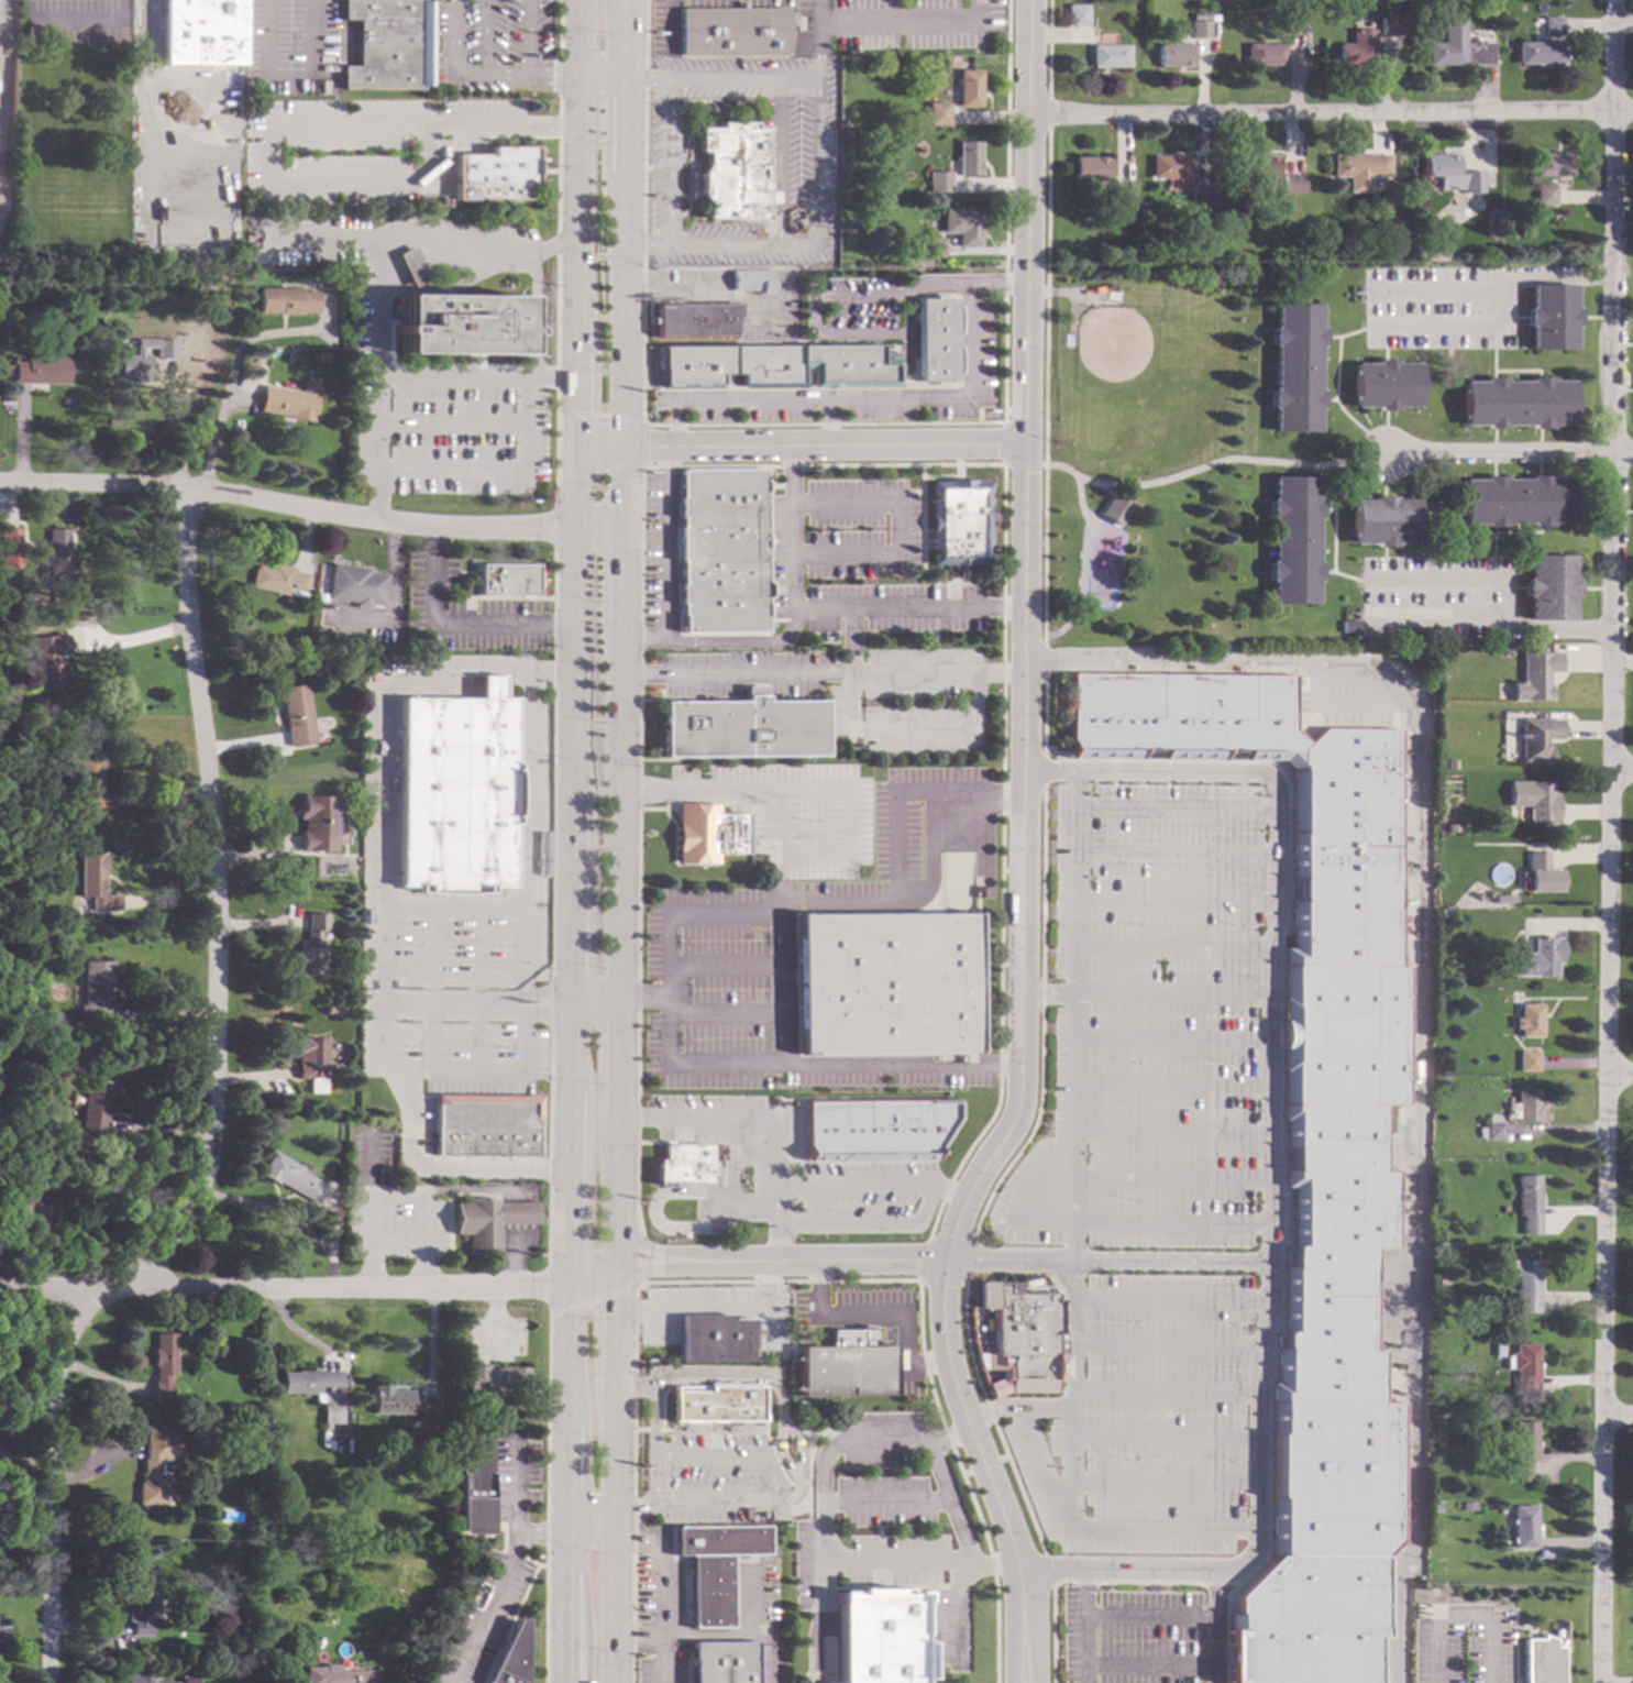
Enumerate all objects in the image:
building: (1077, 14)
building: (1291, 21)
road: (106, 23)
road: (907, 23)
building: (1553, 25)
building: (1390, 26)
road: (0, 28)
building: (1199, 30)
building: (733, 31)
building: (36, 34)
road: (481, 37)
road: (525, 38)
road: (576, 40)
road: (625, 40)
road: (815, 40)
building: (387, 45)
parking lot: (289, 46)
building: (1456, 46)
parking lot: (487, 47)
building: (1356, 48)
building: (1538, 53)
building: (1174, 55)
building: (1264, 55)
building: (1110, 56)
road: (287, 74)
road: (450, 75)
road: (550, 78)
road: (600, 79)
building: (199, 80)
building: (323, 87)
building: (969, 89)
road: (141, 103)
building: (937, 112)
road: (1331, 113)
building: (843, 122)
road: (291, 127)
road: (624, 127)
building: (968, 157)
road: (669, 163)
road: (776, 163)
road: (814, 163)
building: (1552, 164)
building: (1359, 165)
building: (1169, 167)
building: (1091, 168)
building: (1257, 170)
building: (733, 172)
building: (495, 174)
building: (1454, 176)
building: (1489, 180)
building: (938, 182)
building: (1292, 185)
building: (1544, 195)
building: (1199, 196)
building: (1121, 197)
building: (1465, 212)
building: (1393, 219)
building: (1527, 220)
building: (1129, 221)
building: (961, 226)
road: (323, 240)
building: (934, 246)
road: (478, 252)
building: (334, 275)
building: (751, 280)
road: (1491, 286)
road: (703, 289)
building: (287, 299)
road: (815, 299)
road: (380, 310)
road: (534, 317)
building: (1551, 317)
building: (454, 318)
building: (695, 319)
road: (1455, 328)
building: (937, 337)
road: (621, 351)
building: (142, 358)
building: (775, 366)
building: (1294, 367)
building: (8, 369)
building: (40, 370)
road: (407, 380)
park: (1144, 381)
road: (230, 382)
building: (1383, 385)
road: (904, 399)
building: (286, 403)
building: (1516, 403)
road: (827, 421)
road: (676, 426)
road: (799, 444)
road: (522, 448)
park: (1146, 453)
road: (1507, 453)
road: (1211, 462)
road: (1004, 463)
building: (1515, 501)
road: (1025, 506)
road: (309, 508)
building: (1114, 510)
building: (958, 521)
building: (1382, 521)
road: (896, 529)
road: (1003, 530)
road: (792, 531)
building: (9, 536)
building: (1292, 540)
building: (722, 550)
road: (1044, 552)
building: (58, 554)
road: (1082, 562)
road: (666, 565)
road: (1464, 576)
road: (620, 577)
building: (278, 579)
building: (507, 579)
building: (355, 584)
building: (1549, 586)
road: (1003, 607)
road: (909, 608)
road: (1490, 624)
building: (1349, 625)
road: (451, 627)
road: (1002, 640)
road: (738, 641)
road: (851, 641)
building: (1507, 649)
road: (1044, 661)
road: (1225, 663)
road: (1002, 672)
road: (821, 673)
building: (1536, 674)
building: (51, 676)
road: (1345, 704)
building: (296, 714)
road: (1044, 716)
building: (742, 728)
road: (1001, 733)
road: (915, 737)
building: (1538, 738)
road: (1139, 769)
road: (1044, 771)
road: (1624, 772)
building: (9, 777)
building: (88, 782)
building: (455, 793)
road: (1001, 799)
building: (1534, 799)
road: (1177, 810)
road: (617, 812)
building: (317, 822)
road: (847, 822)
building: (1450, 827)
road: (896, 829)
building: (707, 833)
road: (1614, 842)
road: (777, 849)
road: (1177, 853)
building: (1541, 875)
road: (570, 880)
building: (93, 882)
road: (1042, 887)
building: (1488, 893)
building: (1503, 898)
building: (49, 899)
road: (1176, 902)
road: (850, 904)
road: (388, 908)
road: (1000, 934)
road: (521, 943)
building: (311, 946)
road: (1172, 948)
building: (1537, 956)
road: (724, 966)
building: (1501, 969)
building: (885, 982)
building: (91, 988)
road: (1041, 993)
road: (1048, 994)
road: (1171, 996)
road: (593, 1000)
road: (545, 1003)
building: (332, 1007)
road: (455, 1007)
road: (724, 1014)
road: (166, 1015)
building: (1527, 1021)
parking lot: (1148, 1023)
road: (1171, 1037)
building: (310, 1058)
road: (616, 1058)
building: (1527, 1060)
road: (1000, 1064)
road: (781, 1067)
road: (1622, 1077)
road: (1171, 1083)
building: (95, 1096)
road: (212, 1105)
building: (1526, 1105)
road: (765, 1119)
building: (486, 1124)
road: (1033, 1127)
building: (876, 1130)
road: (982, 1130)
road: (1171, 1130)
building: (1493, 1131)
building: (1311, 1157)
building: (683, 1164)
road: (1268, 1174)
building: (290, 1177)
road: (1170, 1179)
road: (948, 1189)
road: (946, 1190)
road: (615, 1192)
road: (401, 1193)
road: (926, 1196)
road: (1411, 1197)
building: (1527, 1202)
building: (40, 1208)
building: (1503, 1208)
road: (518, 1212)
road: (282, 1218)
road: (934, 1219)
building: (489, 1220)
road: (1097, 1223)
road: (422, 1240)
road: (1073, 1241)
road: (658, 1251)
road: (517, 1254)
road: (826, 1261)
road: (1105, 1262)
road: (662, 1266)
building: (1461, 1269)
road: (591, 1276)
road: (941, 1278)
building: (1441, 1279)
building: (1526, 1286)
road: (283, 1287)
road: (1170, 1300)
road: (710, 1309)
road: (879, 1314)
road: (941, 1319)
building: (1483, 1320)
parking lot: (868, 1322)
road: (614, 1327)
road: (295, 1330)
building: (714, 1338)
building: (1024, 1338)
road: (1165, 1346)
building: (1497, 1350)
building: (162, 1363)
building: (497, 1363)
building: (846, 1366)
building: (1523, 1366)
road: (729, 1380)
building: (316, 1389)
road: (1165, 1394)
road: (653, 1400)
building: (399, 1401)
building: (714, 1404)
road: (1018, 1408)
building: (816, 1416)
building: (1467, 1418)
road: (1619, 1418)
parking lot: (1148, 1421)
road: (1165, 1434)
road: (779, 1449)
building: (1523, 1451)
road: (797, 1464)
road: (1046, 1470)
building: (154, 1473)
parking lot: (516, 1478)
parking lot: (718, 1478)
road: (1165, 1482)
road: (772, 1483)
building: (473, 1484)
road: (517, 1491)
road: (886, 1502)
road: (951, 1503)
building: (1468, 1506)
road: (398, 1511)
road: (588, 1522)
building: (1524, 1527)
road: (821, 1529)
road: (613, 1535)
building: (714, 1566)
road: (1121, 1571)
road: (494, 1590)
road: (662, 1591)
road: (751, 1596)
building: (143, 1601)
road: (1459, 1614)
road: (958, 1615)
road: (1149, 1616)
road: (821, 1619)
parking lot: (483, 1621)
road: (1084, 1626)
road: (1214, 1627)
road: (710, 1634)
building: (880, 1635)
parking lot: (1132, 1637)
building: (1, 1639)
building: (184, 1649)
road: (1018, 1656)
building: (509, 1657)
road: (1028, 1658)
building: (1542, 1661)
building: (720, 1662)
road: (1149, 1665)
building: (395, 1672)
building: (335, 1675)
building: (137, 1678)
road: (1015, 1682)

